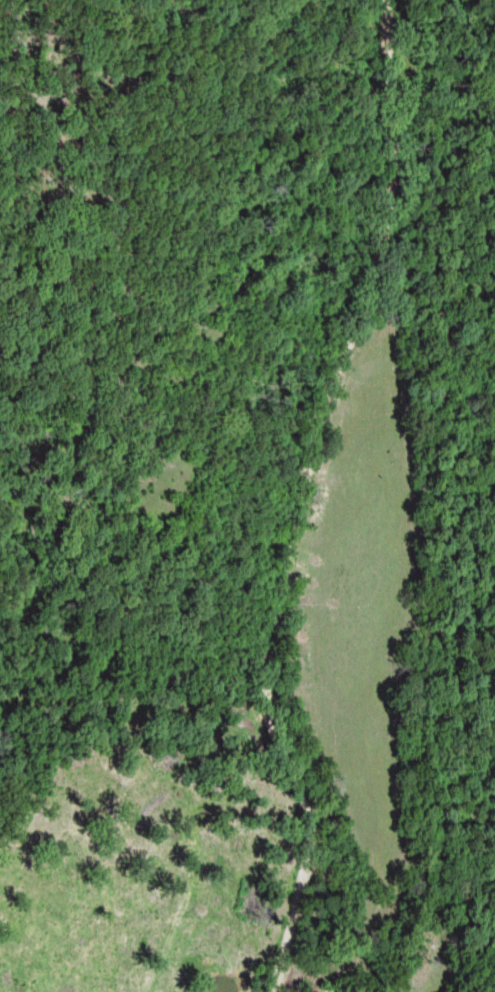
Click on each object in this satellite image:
road: (305, 496)

